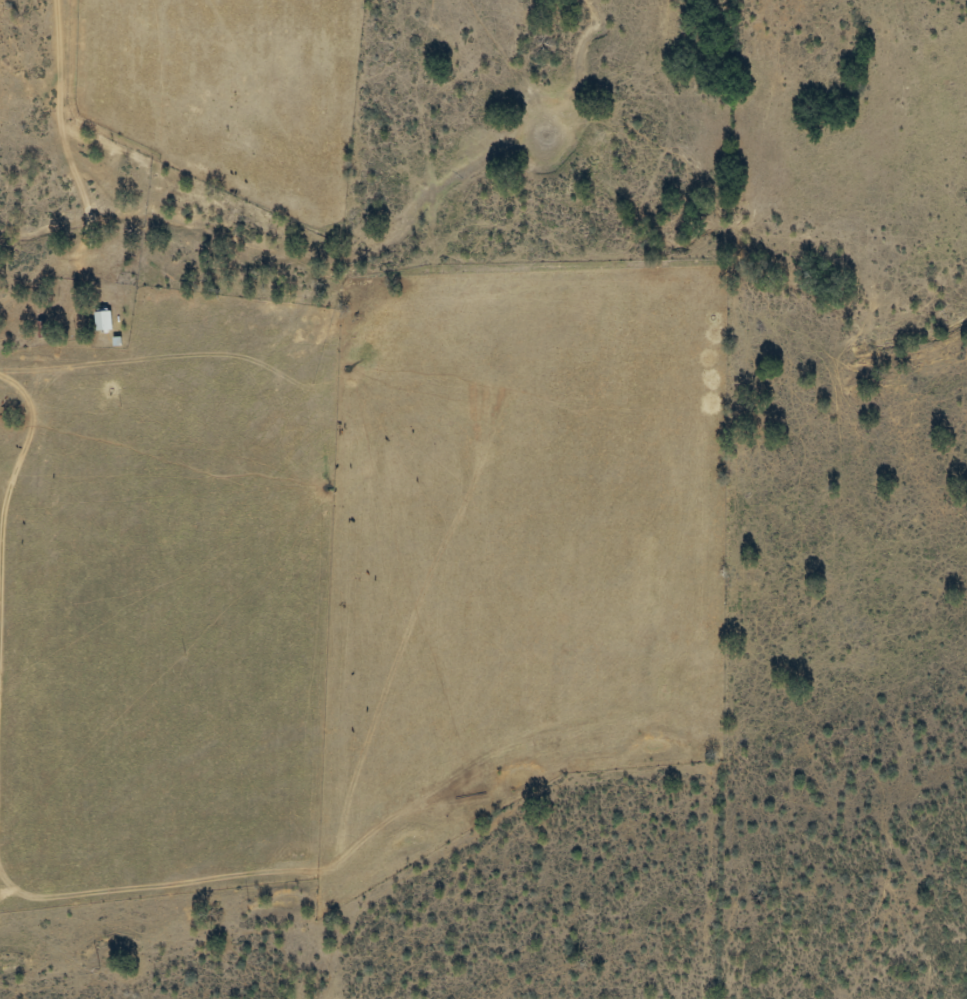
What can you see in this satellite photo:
building: (103, 320)

